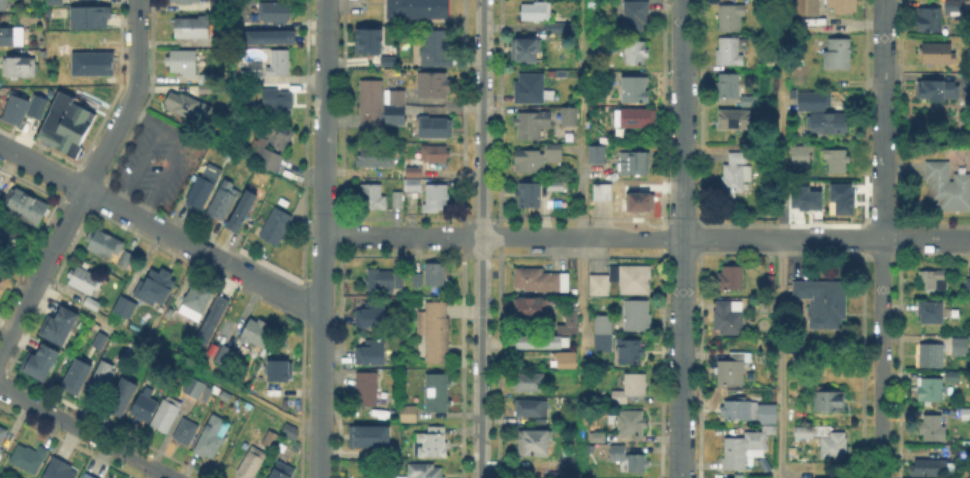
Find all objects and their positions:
building: (170, 0)
building: (55, 2)
building: (187, 2)
building: (221, 5)
building: (842, 5)
building: (5, 6)
building: (953, 6)
building: (416, 9)
building: (47, 11)
building: (534, 12)
building: (276, 13)
building: (632, 13)
building: (807, 13)
building: (931, 16)
building: (90, 17)
building: (730, 17)
building: (560, 28)
building: (194, 30)
building: (11, 35)
building: (267, 36)
building: (83, 38)
building: (366, 39)
building: (433, 50)
building: (520, 52)
building: (729, 52)
building: (938, 52)
building: (838, 53)
building: (633, 54)
building: (385, 59)
building: (765, 60)
building: (90, 63)
building: (184, 63)
building: (281, 65)
building: (19, 69)
building: (256, 72)
building: (556, 74)
building: (965, 82)
building: (931, 86)
building: (429, 87)
building: (527, 88)
building: (207, 89)
building: (49, 91)
building: (633, 91)
building: (732, 92)
building: (391, 94)
building: (808, 98)
building: (278, 100)
building: (34, 105)
building: (369, 106)
building: (13, 107)
building: (186, 107)
building: (393, 116)
road: (580, 118)
road: (882, 119)
building: (633, 120)
building: (541, 121)
building: (733, 122)
building: (827, 124)
building: (71, 128)
building: (427, 128)
building: (603, 137)
building: (274, 147)
road: (176, 150)
building: (800, 153)
building: (433, 154)
building: (595, 156)
building: (535, 159)
building: (374, 160)
building: (835, 161)
road: (780, 162)
building: (634, 163)
road: (135, 164)
building: (412, 169)
building: (734, 175)
road: (89, 181)
building: (550, 187)
building: (946, 188)
building: (411, 191)
building: (203, 192)
building: (601, 193)
building: (526, 196)
building: (840, 196)
building: (803, 197)
building: (367, 198)
building: (396, 199)
building: (434, 199)
building: (2, 200)
building: (223, 201)
building: (634, 204)
building: (27, 209)
building: (240, 210)
building: (278, 227)
road: (159, 229)
building: (12, 232)
road: (602, 237)
road: (480, 238)
road: (926, 238)
road: (322, 239)
road: (682, 239)
building: (106, 246)
building: (127, 260)
building: (433, 275)
building: (631, 279)
building: (416, 280)
building: (730, 280)
building: (378, 281)
building: (396, 281)
building: (930, 281)
building: (87, 282)
building: (538, 282)
building: (770, 284)
building: (598, 286)
building: (968, 288)
building: (158, 289)
building: (199, 304)
building: (822, 304)
building: (95, 305)
building: (528, 310)
building: (124, 312)
building: (929, 313)
building: (570, 315)
building: (635, 317)
building: (212, 318)
building: (727, 318)
building: (370, 319)
building: (60, 323)
building: (254, 331)
building: (602, 331)
building: (434, 333)
building: (97, 339)
building: (538, 340)
building: (958, 348)
road: (158, 350)
building: (629, 350)
building: (220, 353)
road: (581, 357)
building: (928, 357)
building: (369, 358)
road: (779, 358)
road: (880, 358)
building: (37, 360)
building: (565, 362)
building: (279, 369)
building: (731, 370)
building: (74, 374)
building: (103, 381)
building: (529, 384)
building: (630, 387)
building: (195, 389)
building: (365, 390)
building: (434, 391)
building: (928, 392)
building: (275, 393)
building: (121, 395)
building: (826, 398)
building: (143, 405)
building: (737, 408)
building: (529, 410)
building: (405, 411)
building: (765, 412)
building: (168, 417)
building: (965, 417)
building: (630, 423)
building: (932, 431)
road: (87, 432)
building: (292, 432)
building: (188, 434)
building: (366, 435)
building: (3, 437)
building: (214, 438)
building: (597, 438)
building: (271, 440)
building: (833, 443)
building: (430, 445)
building: (742, 445)
building: (532, 446)
building: (792, 452)
building: (958, 454)
building: (620, 458)
building: (29, 459)
building: (253, 464)
building: (568, 464)
building: (928, 468)
building: (58, 469)
building: (423, 471)
building: (287, 472)
building: (88, 476)
building: (397, 476)
building: (442, 477)

